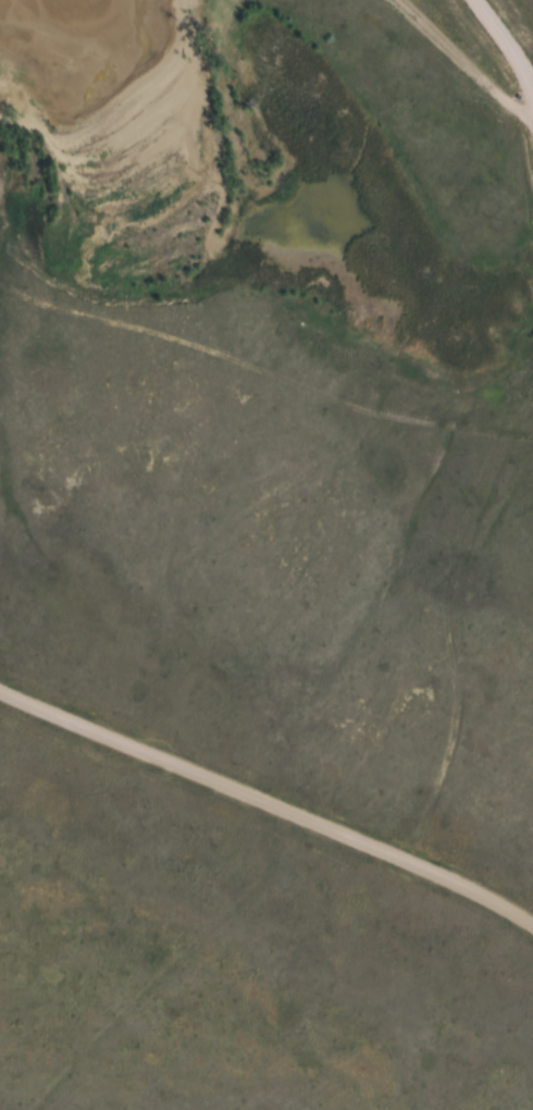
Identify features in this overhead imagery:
road: (270, 802)

